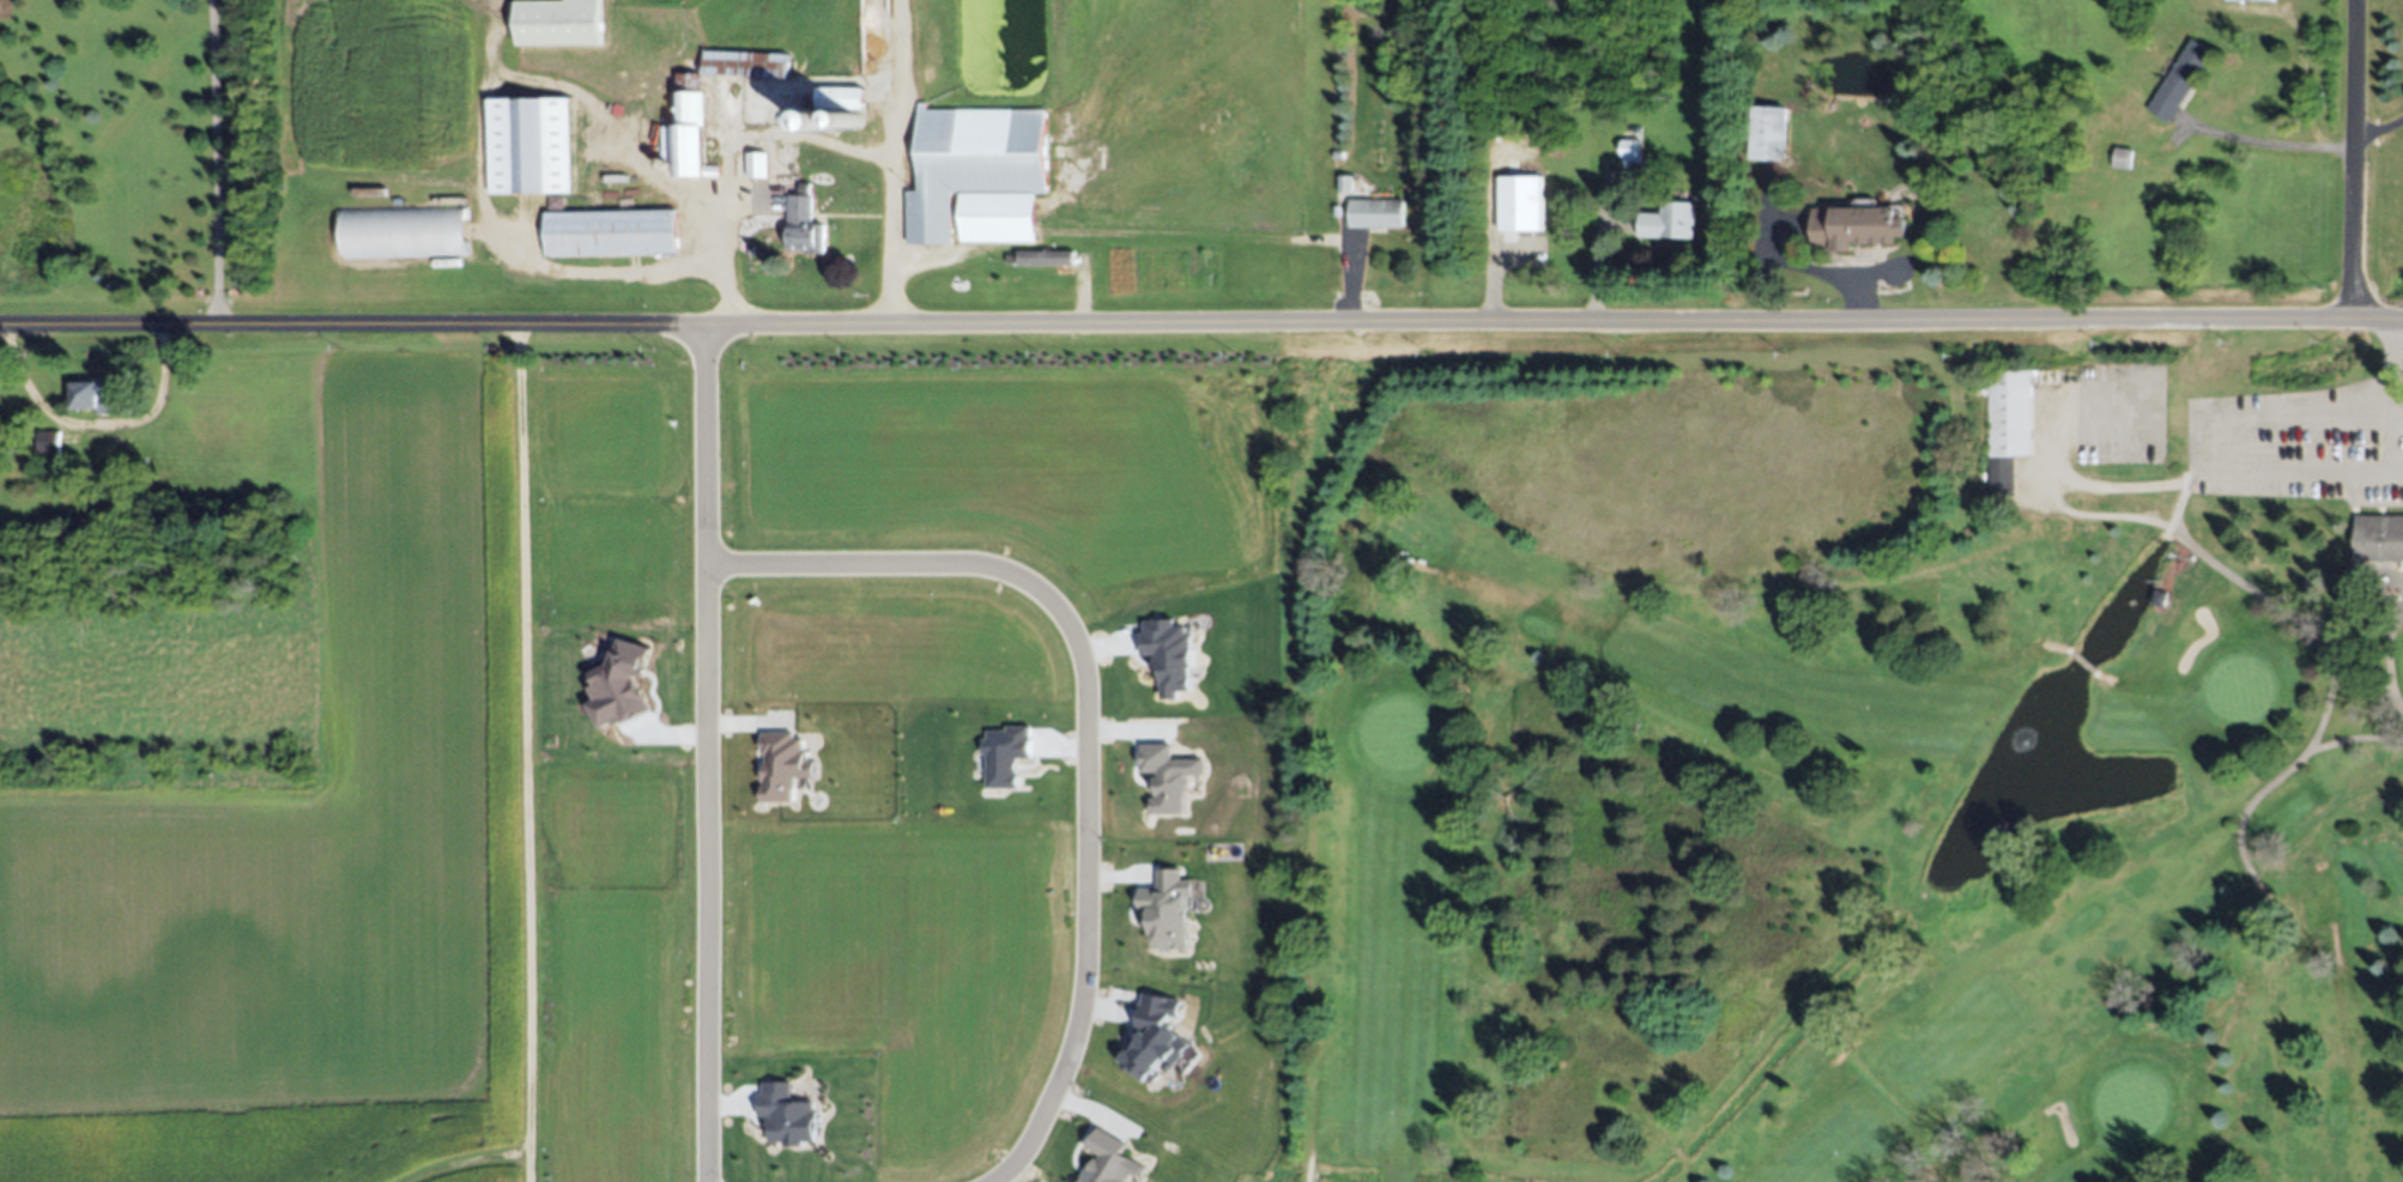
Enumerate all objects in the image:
building: (2251, 0)
building: (558, 20)
building: (2181, 79)
building: (691, 101)
building: (840, 104)
building: (807, 115)
building: (1769, 133)
road: (805, 138)
building: (531, 141)
road: (2271, 141)
road: (479, 144)
building: (1632, 153)
building: (2123, 158)
road: (2354, 159)
road: (214, 164)
building: (758, 164)
building: (979, 174)
building: (1343, 184)
building: (630, 198)
building: (556, 201)
building: (1520, 204)
building: (1375, 212)
building: (1670, 220)
building: (805, 224)
building: (1856, 226)
building: (404, 232)
building: (612, 232)
building: (1042, 257)
road: (1201, 327)
road: (2391, 370)
building: (99, 399)
road: (2299, 419)
road: (96, 425)
building: (2004, 428)
building: (50, 441)
parking lot: (2298, 443)
road: (2195, 444)
road: (2390, 449)
road: (2299, 474)
road: (2126, 484)
road: (2178, 507)
building: (2379, 537)
road: (1421, 565)
road: (2233, 576)
road: (2386, 637)
road: (2057, 644)
building: (1169, 656)
road: (2081, 662)
road: (2102, 678)
building: (621, 686)
road: (1087, 721)
road: (2354, 738)
road: (525, 756)
road: (706, 756)
building: (1004, 756)
road: (2298, 757)
building: (781, 766)
park: (1852, 771)
building: (1169, 777)
building: (1169, 909)
building: (1156, 1039)
road: (1840, 1049)
building: (786, 1115)
road: (1679, 1157)
road: (464, 1159)
building: (1110, 1159)
road: (1307, 1159)
road: (1306, 1172)

